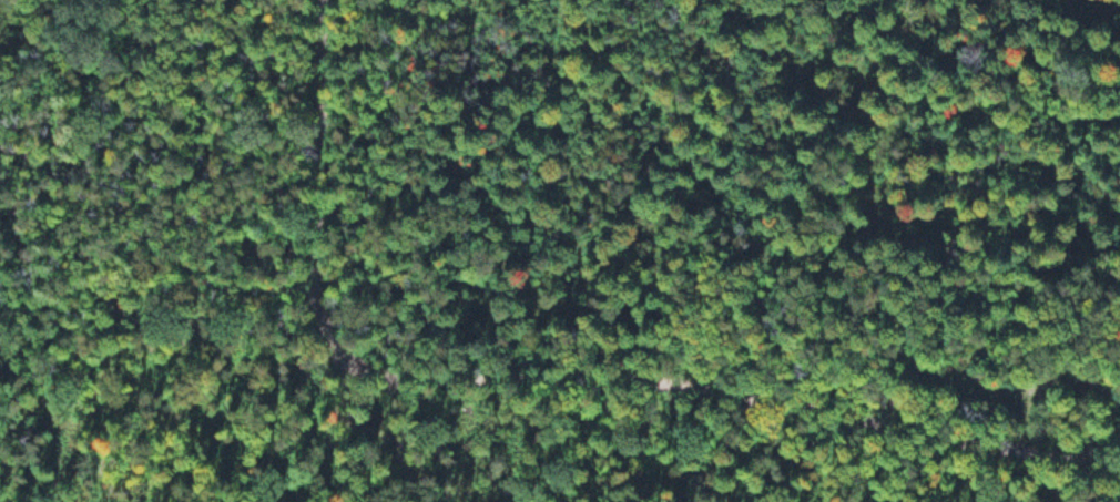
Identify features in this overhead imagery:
road: (94, 268)
road: (549, 376)

